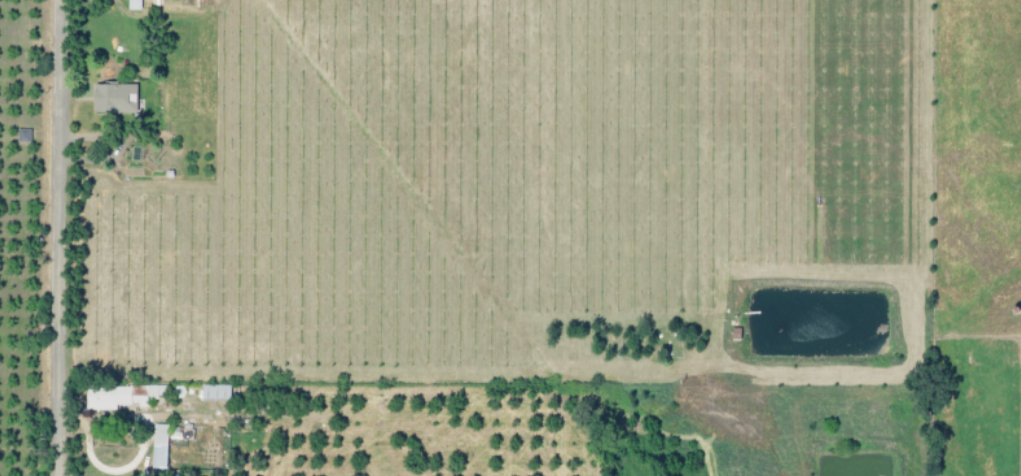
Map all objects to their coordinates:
building: (131, 4)
building: (110, 98)
building: (19, 135)
road: (60, 238)
building: (211, 392)
building: (116, 396)
building: (155, 446)

